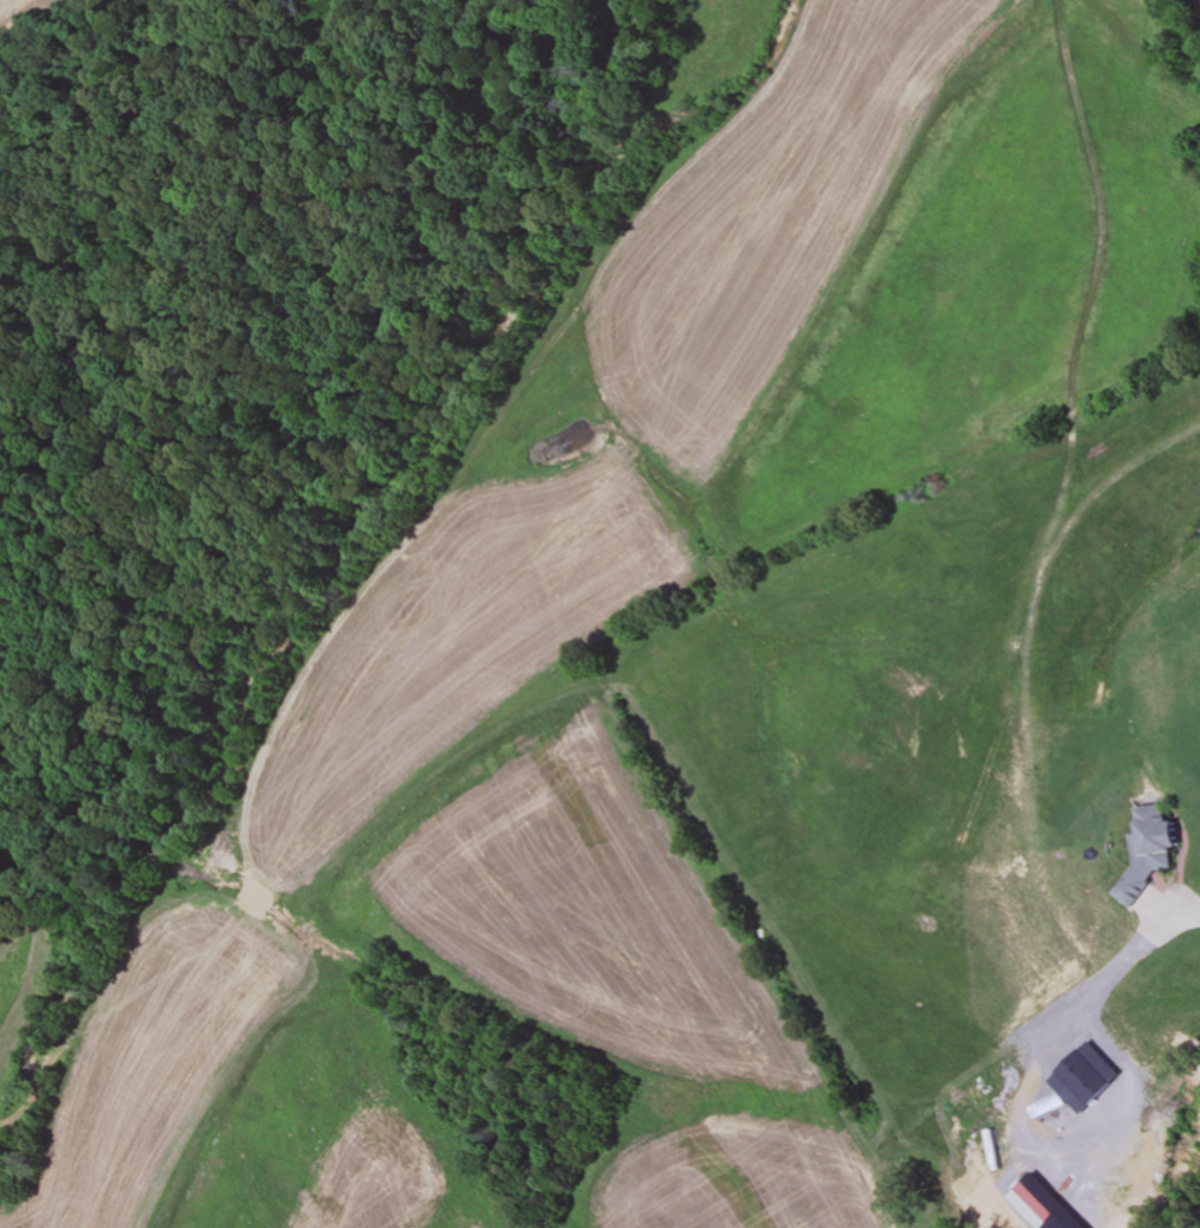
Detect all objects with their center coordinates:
building: (1148, 852)
road: (1140, 955)
building: (1076, 1075)

